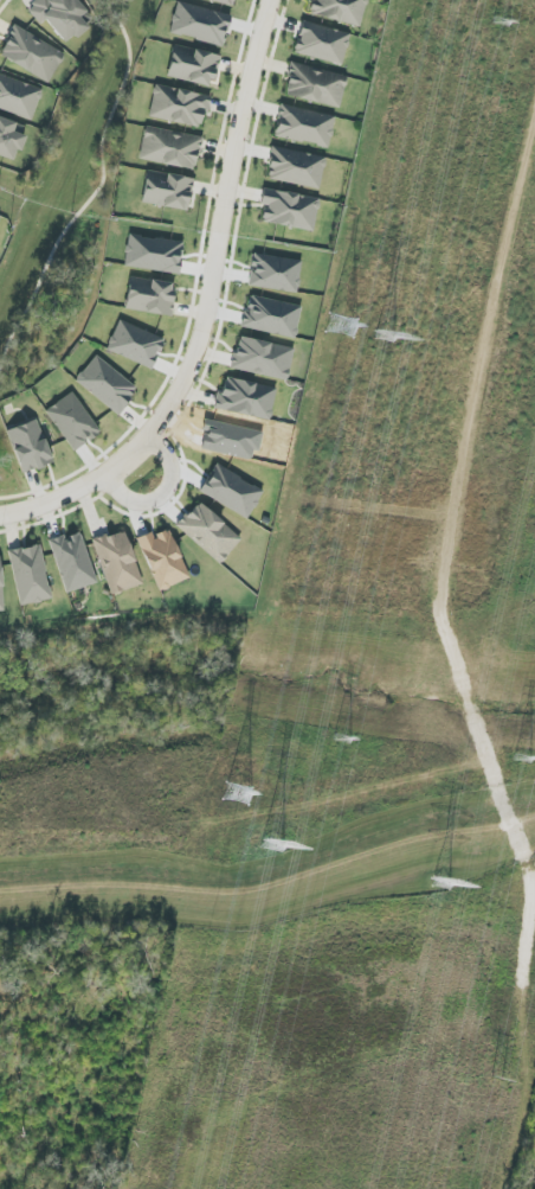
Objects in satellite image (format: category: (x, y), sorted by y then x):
building: (225, 1)
building: (340, 11)
building: (60, 17)
power tower: (495, 21)
building: (200, 24)
building: (322, 43)
building: (31, 55)
building: (193, 65)
building: (315, 85)
building: (19, 97)
building: (179, 106)
building: (304, 126)
building: (11, 138)
building: (169, 148)
building: (296, 167)
building: (167, 190)
road: (96, 192)
power tower: (367, 197)
building: (289, 210)
building: (0, 216)
building: (275, 273)
road: (198, 276)
building: (149, 296)
road: (207, 308)
building: (271, 317)
power tower: (385, 339)
building: (135, 344)
building: (263, 358)
building: (105, 385)
road: (476, 392)
building: (246, 398)
road: (473, 401)
building: (72, 421)
building: (28, 447)
road: (36, 488)
building: (231, 491)
road: (19, 496)
road: (161, 498)
building: (208, 532)
building: (163, 560)
building: (72, 562)
building: (117, 562)
building: (30, 575)
building: (1, 587)
road: (468, 698)
road: (465, 699)
power tower: (336, 741)
road: (484, 746)
power tower: (520, 761)
road: (499, 791)
road: (510, 824)
power tower: (273, 846)
road: (521, 850)
power tower: (223, 861)
power tower: (439, 884)
road: (247, 899)
road: (459, 1027)
road: (397, 1047)
power tower: (494, 1085)

